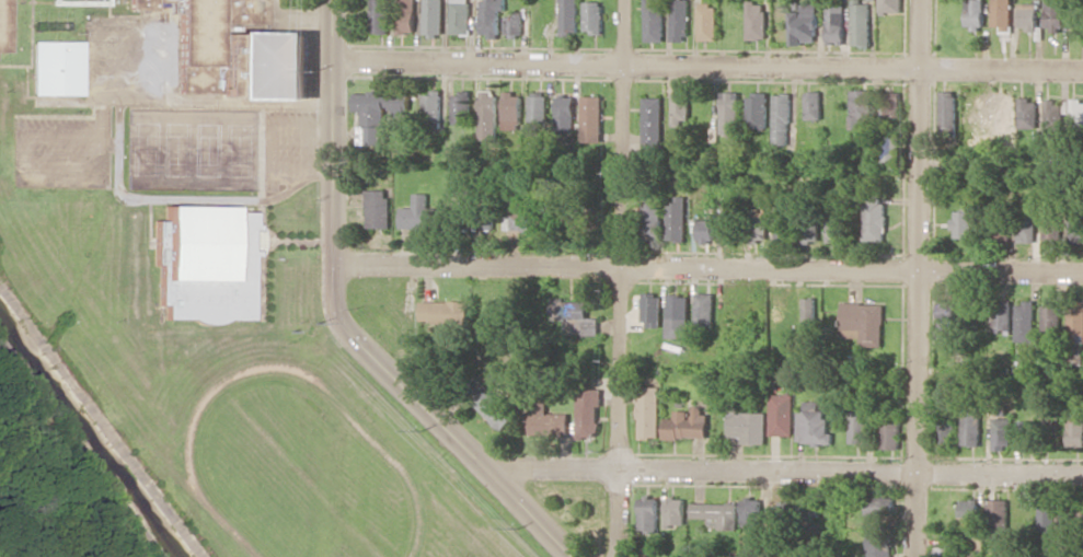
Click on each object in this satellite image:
building: (139, 4)
building: (892, 5)
building: (1003, 13)
building: (571, 15)
building: (1029, 15)
building: (1056, 15)
building: (381, 16)
building: (407, 16)
building: (461, 16)
building: (492, 16)
building: (594, 16)
building: (1078, 16)
building: (435, 18)
building: (655, 20)
building: (681, 20)
building: (758, 20)
building: (710, 22)
building: (806, 22)
building: (838, 22)
building: (863, 23)
building: (515, 24)
building: (2, 26)
building: (239, 51)
road: (707, 65)
building: (54, 67)
building: (815, 104)
building: (891, 104)
building: (382, 105)
building: (463, 105)
building: (1005, 106)
building: (681, 107)
building: (434, 108)
building: (863, 108)
building: (514, 111)
building: (538, 111)
building: (759, 111)
building: (949, 111)
building: (731, 112)
building: (1076, 112)
building: (566, 113)
building: (1028, 113)
building: (489, 115)
building: (1052, 115)
building: (592, 118)
building: (783, 118)
building: (653, 124)
building: (376, 134)
building: (890, 148)
building: (379, 208)
building: (420, 213)
building: (523, 214)
building: (652, 216)
building: (677, 217)
building: (875, 217)
building: (475, 219)
building: (964, 222)
building: (784, 225)
building: (758, 227)
building: (1026, 227)
building: (1053, 228)
building: (706, 229)
building: (811, 229)
building: (837, 229)
building: (1076, 230)
building: (203, 262)
road: (706, 265)
road: (623, 278)
road: (921, 278)
building: (652, 307)
building: (704, 310)
building: (809, 310)
building: (1002, 314)
building: (678, 315)
building: (947, 317)
building: (1052, 317)
building: (581, 318)
building: (1026, 321)
building: (863, 322)
building: (1075, 322)
road: (341, 323)
building: (443, 339)
building: (1079, 352)
building: (495, 406)
building: (589, 409)
building: (650, 411)
building: (782, 414)
building: (550, 422)
building: (688, 422)
building: (747, 423)
building: (813, 423)
building: (859, 426)
building: (971, 427)
building: (1026, 429)
building: (890, 431)
building: (1076, 431)
building: (1002, 432)
road: (786, 471)
building: (879, 504)
building: (969, 507)
building: (676, 510)
building: (753, 510)
building: (718, 512)
building: (649, 513)
building: (1048, 517)
building: (999, 519)
building: (879, 545)
building: (945, 546)

